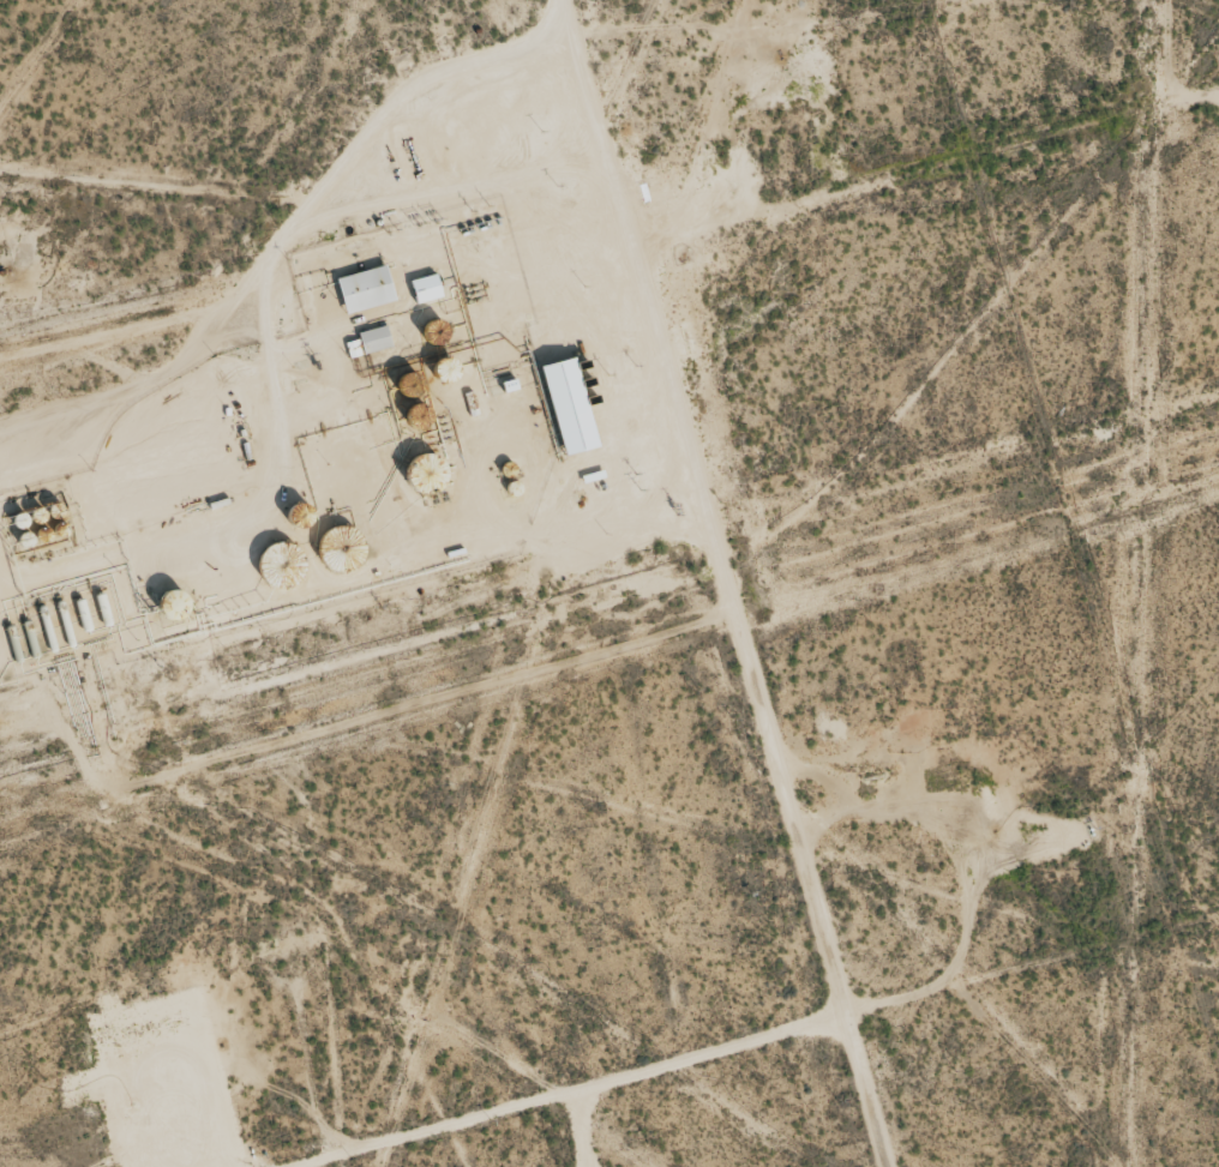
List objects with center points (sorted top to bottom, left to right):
building: (422, 288)
building: (361, 289)
building: (366, 342)
building: (562, 405)
road: (722, 583)
road: (861, 1069)

